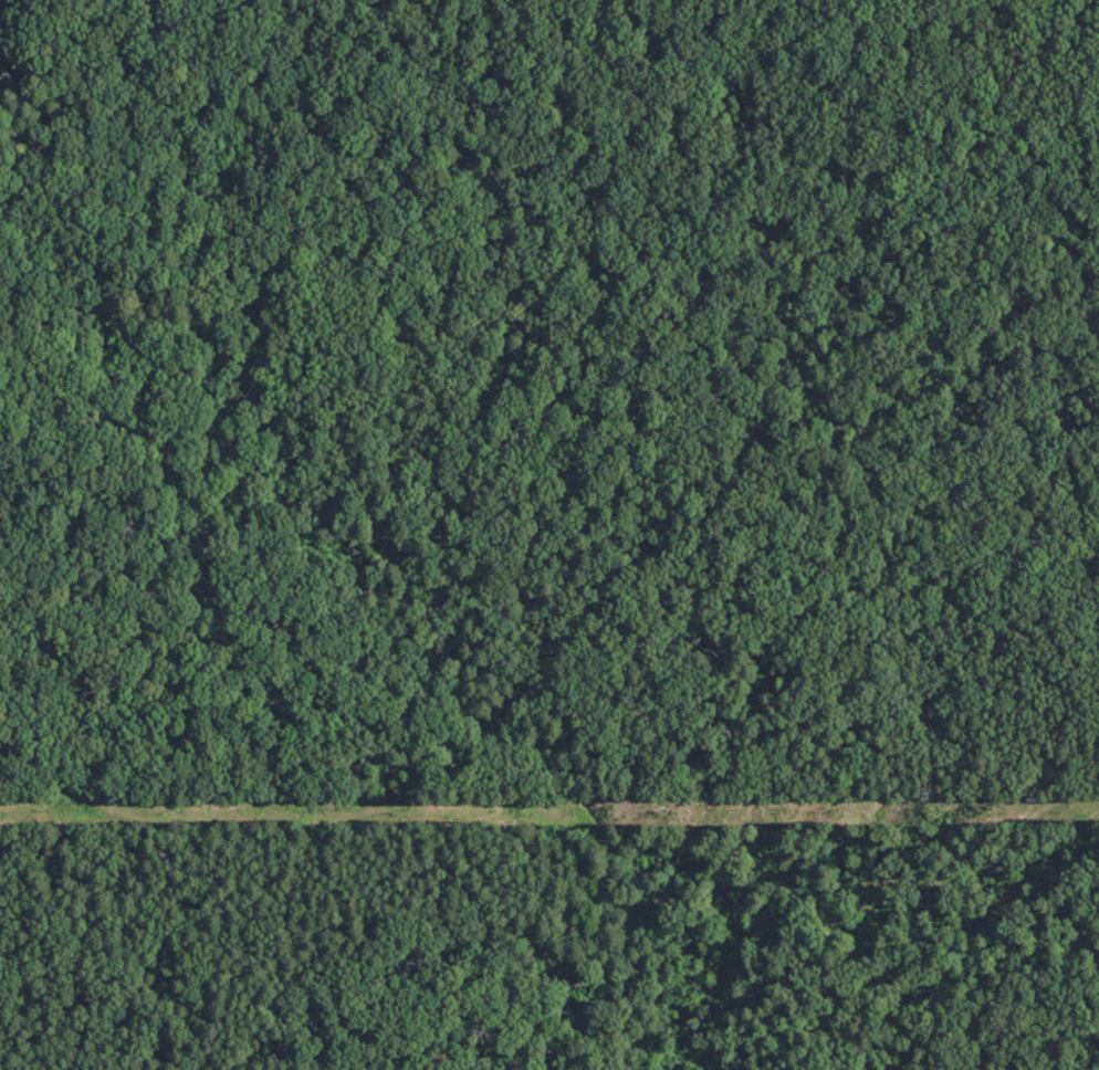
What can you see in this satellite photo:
road: (558, 847)

